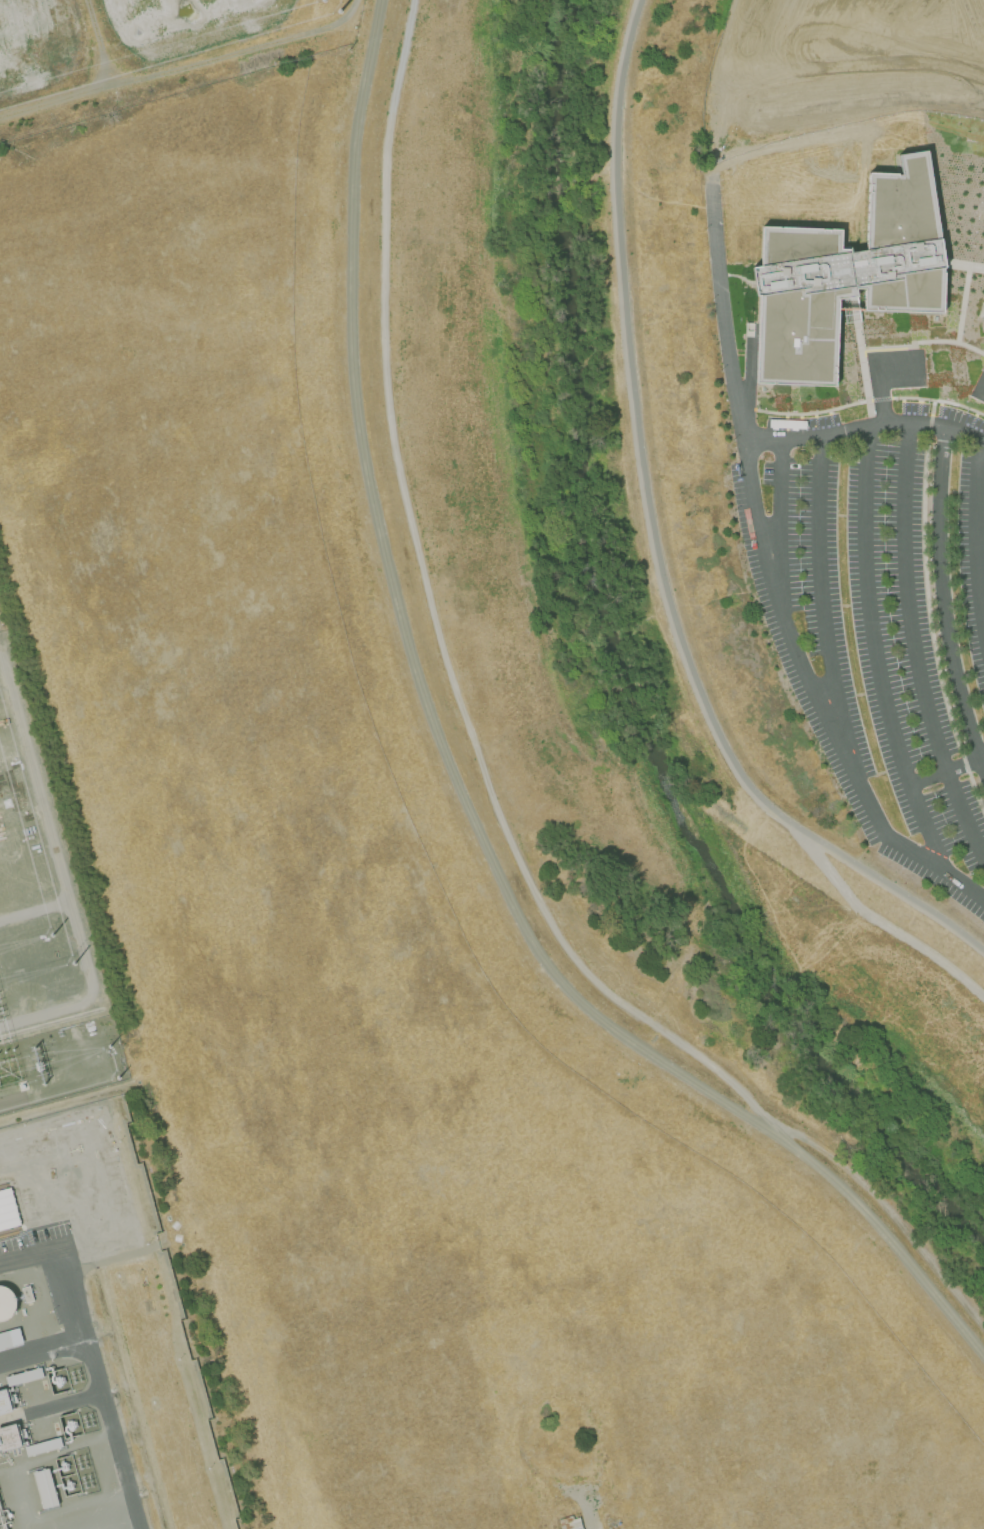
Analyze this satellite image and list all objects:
road: (971, 4)
power tower: (338, 10)
road: (887, 30)
road: (733, 55)
road: (768, 74)
road: (847, 76)
building: (848, 292)
road: (721, 309)
road: (865, 427)
road: (779, 514)
road: (976, 530)
road: (659, 542)
road: (820, 594)
road: (944, 601)
parking lot: (879, 613)
road: (914, 647)
road: (876, 653)
river: (618, 671)
road: (819, 700)
road: (479, 759)
road: (946, 771)
crop: (377, 916)
road: (891, 928)
power substation: (43, 937)
power tower: (52, 940)
power tower: (73, 965)
building: (7, 1210)
building: (27, 1293)
building: (6, 1303)
building: (5, 1339)
power plant: (95, 1342)
road: (43, 1353)
road: (90, 1355)
building: (24, 1376)
building: (4, 1402)
building: (9, 1437)
building: (43, 1446)
building: (46, 1488)
road: (593, 1519)
building: (570, 1523)

